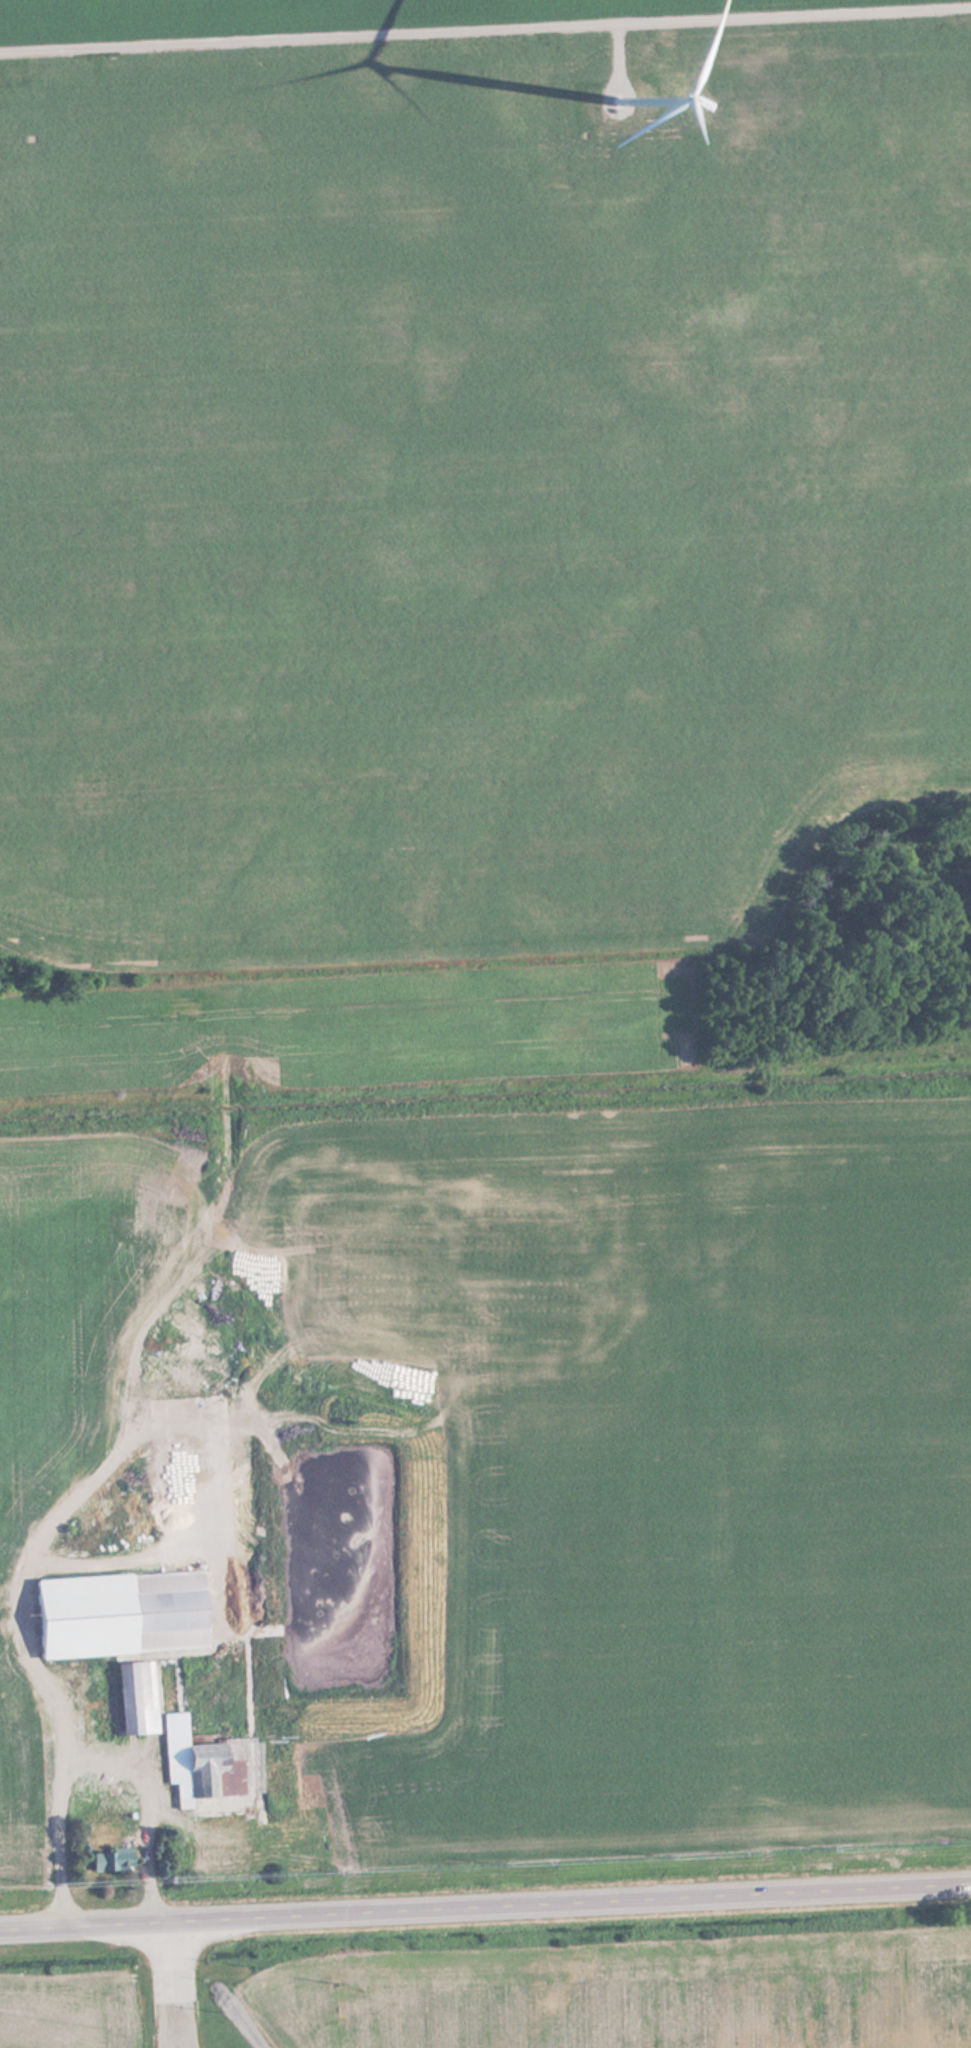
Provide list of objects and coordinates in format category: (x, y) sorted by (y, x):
road: (485, 33)
wind turbine: (619, 97)
building: (74, 1530)
building: (123, 1613)
building: (134, 1697)
building: (210, 1763)
building: (96, 1789)
building: (112, 1860)
road: (485, 1908)

